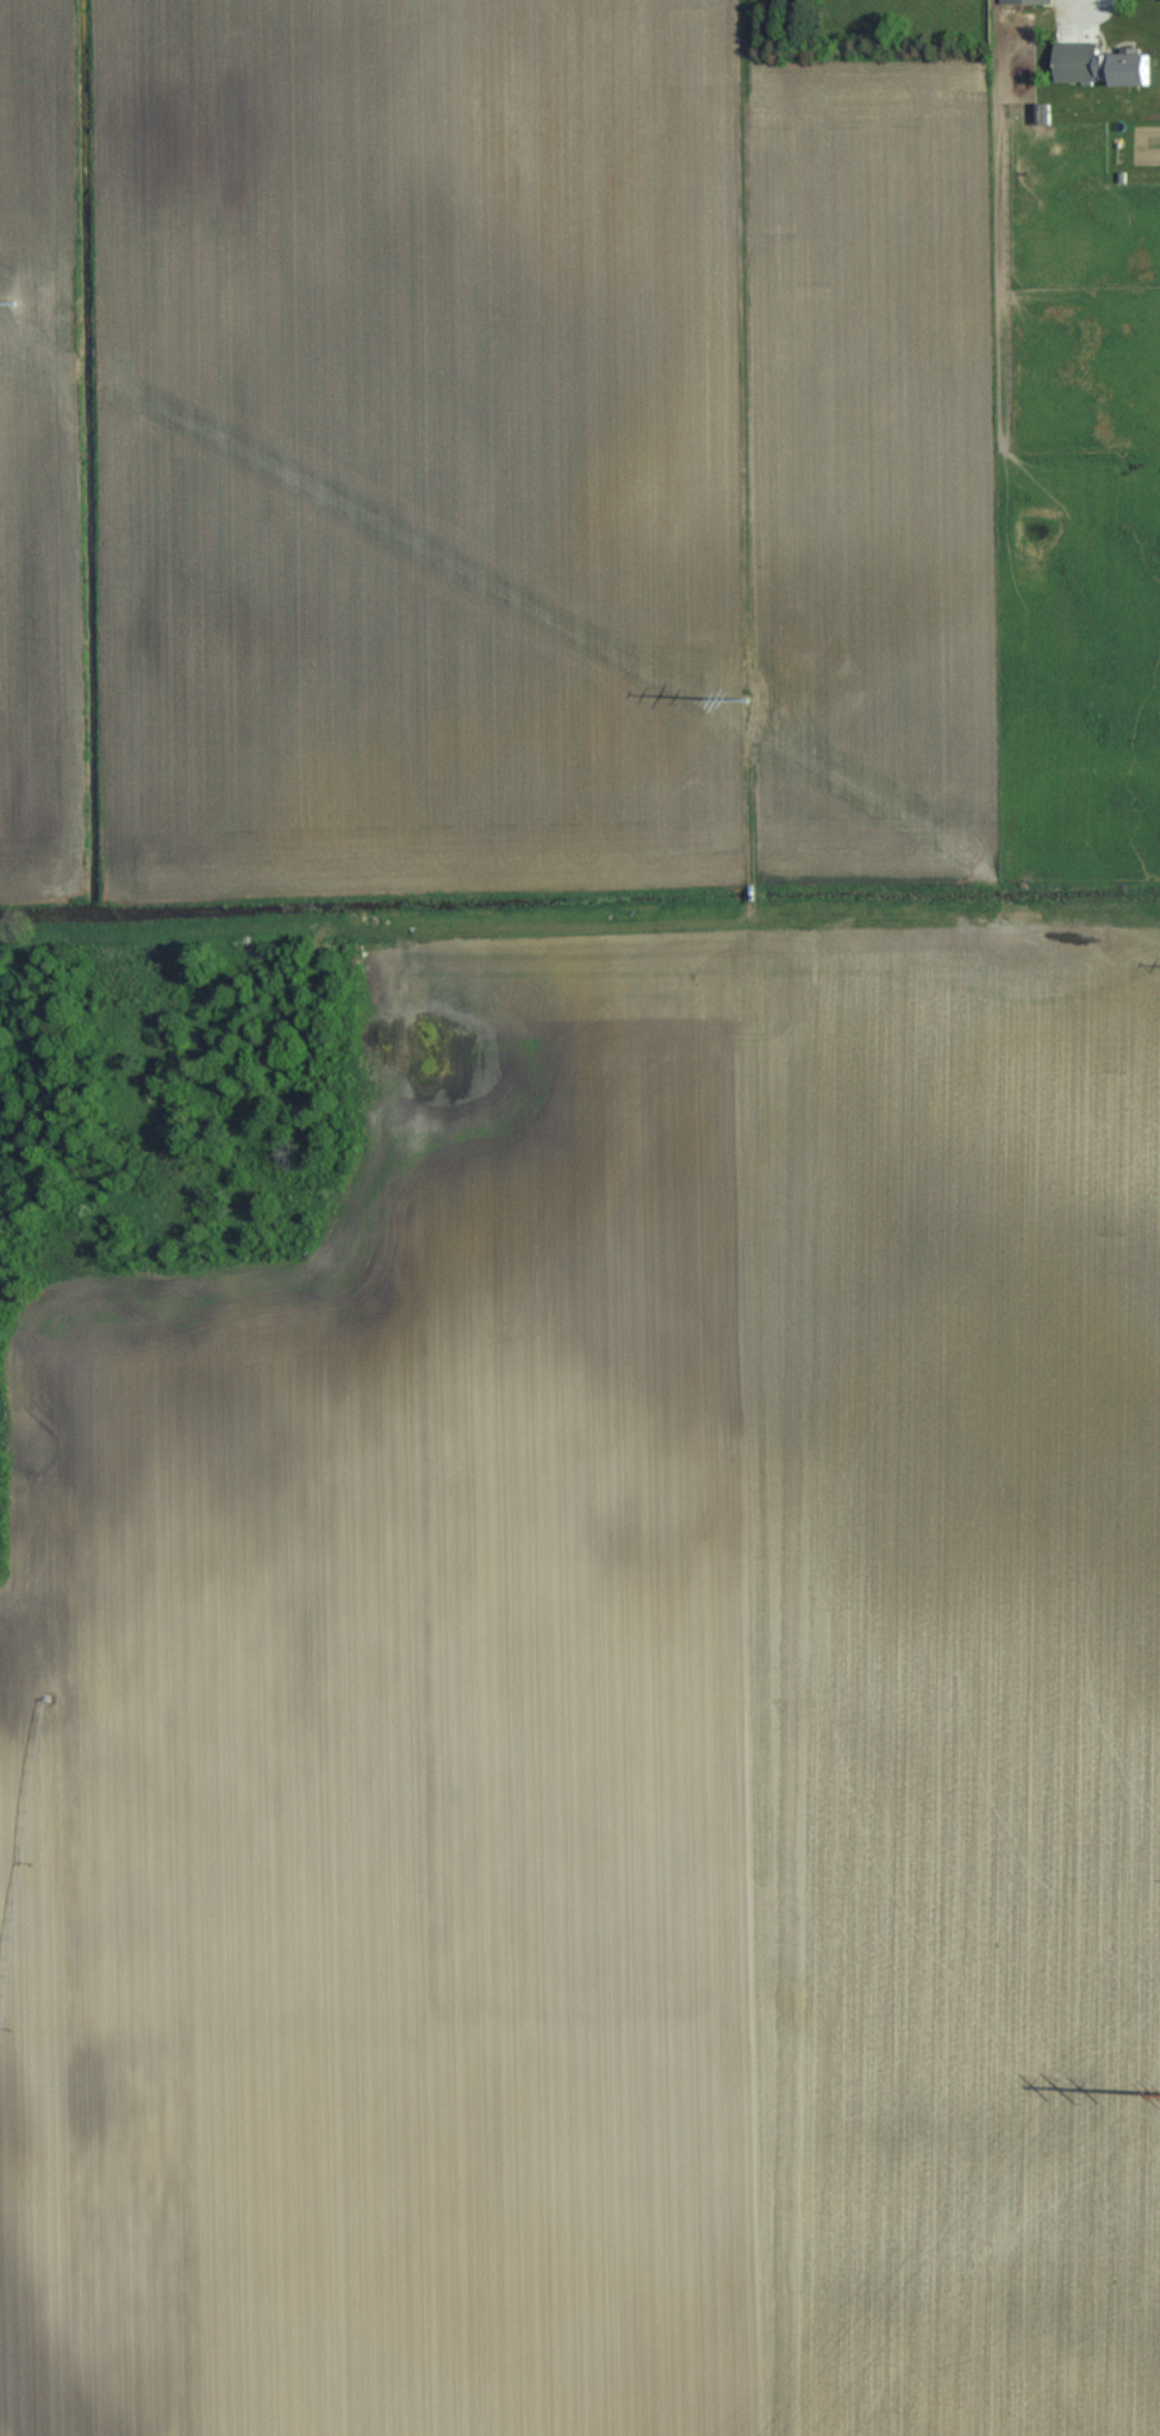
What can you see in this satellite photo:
building: (1025, 1)
road: (1074, 13)
building: (1075, 60)
building: (1042, 113)

